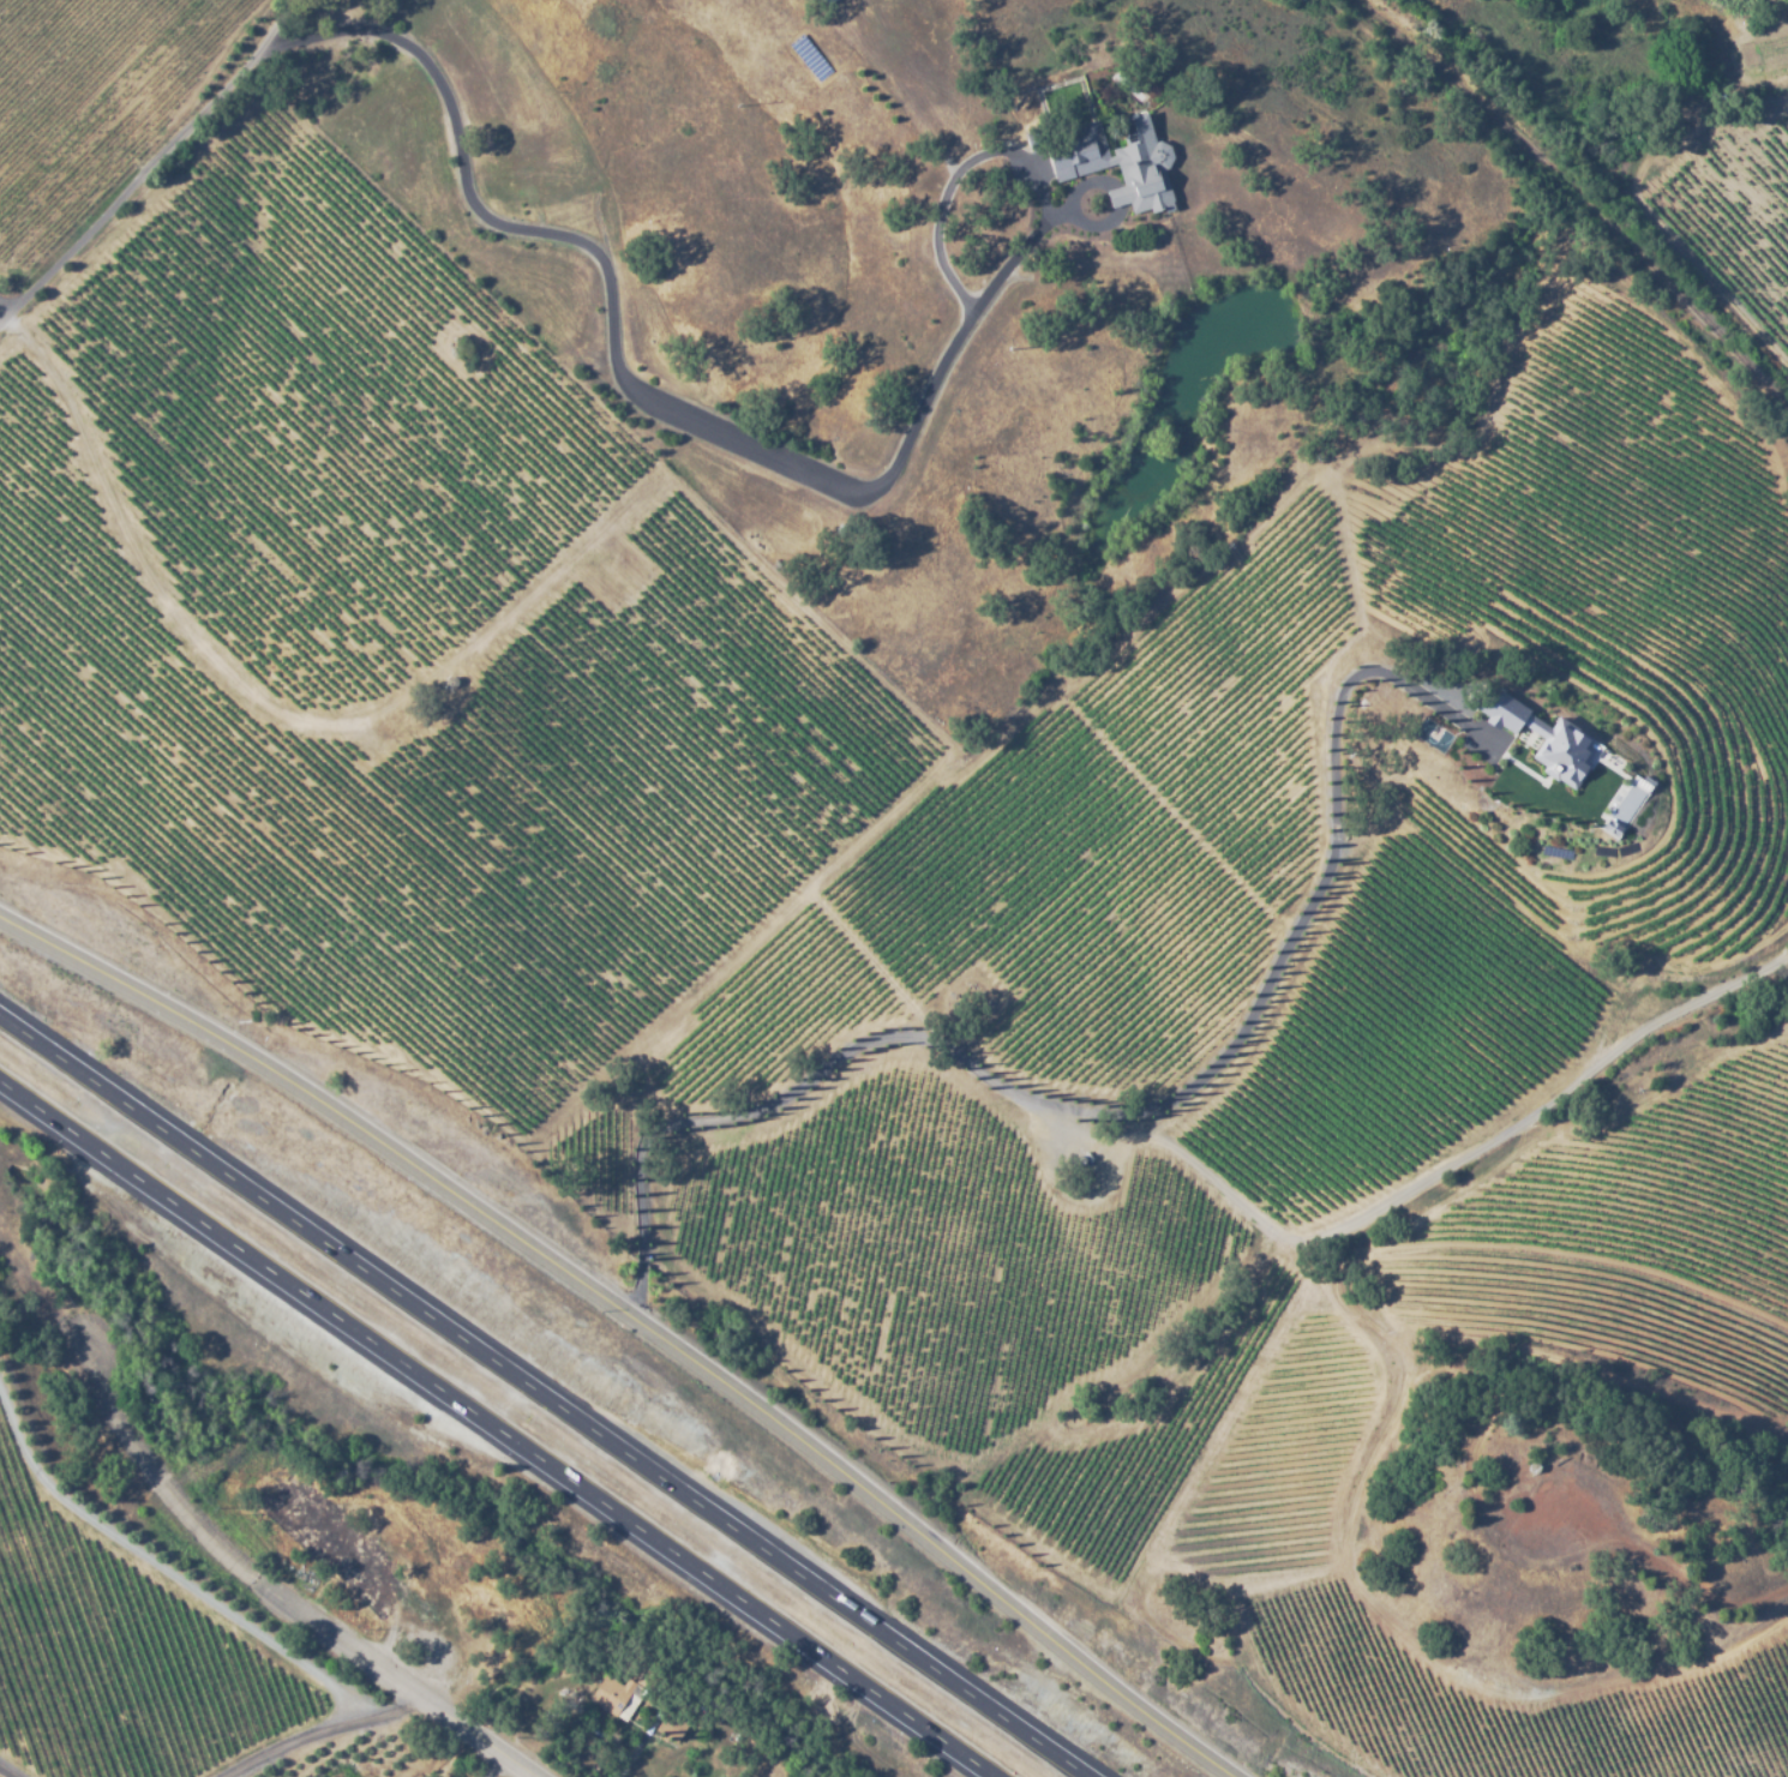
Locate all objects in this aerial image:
building: (818, 1)
building: (826, 2)
building: (1112, 161)
road: (152, 178)
railway: (1579, 196)
road: (7, 314)
building: (452, 680)
building: (1544, 738)
building: (1086, 1159)
road: (630, 1327)
road: (541, 1395)
road: (492, 1431)
building: (1536, 1464)
road: (280, 1597)
building: (626, 1689)
building: (672, 1725)
road: (332, 1731)
building: (749, 1747)

